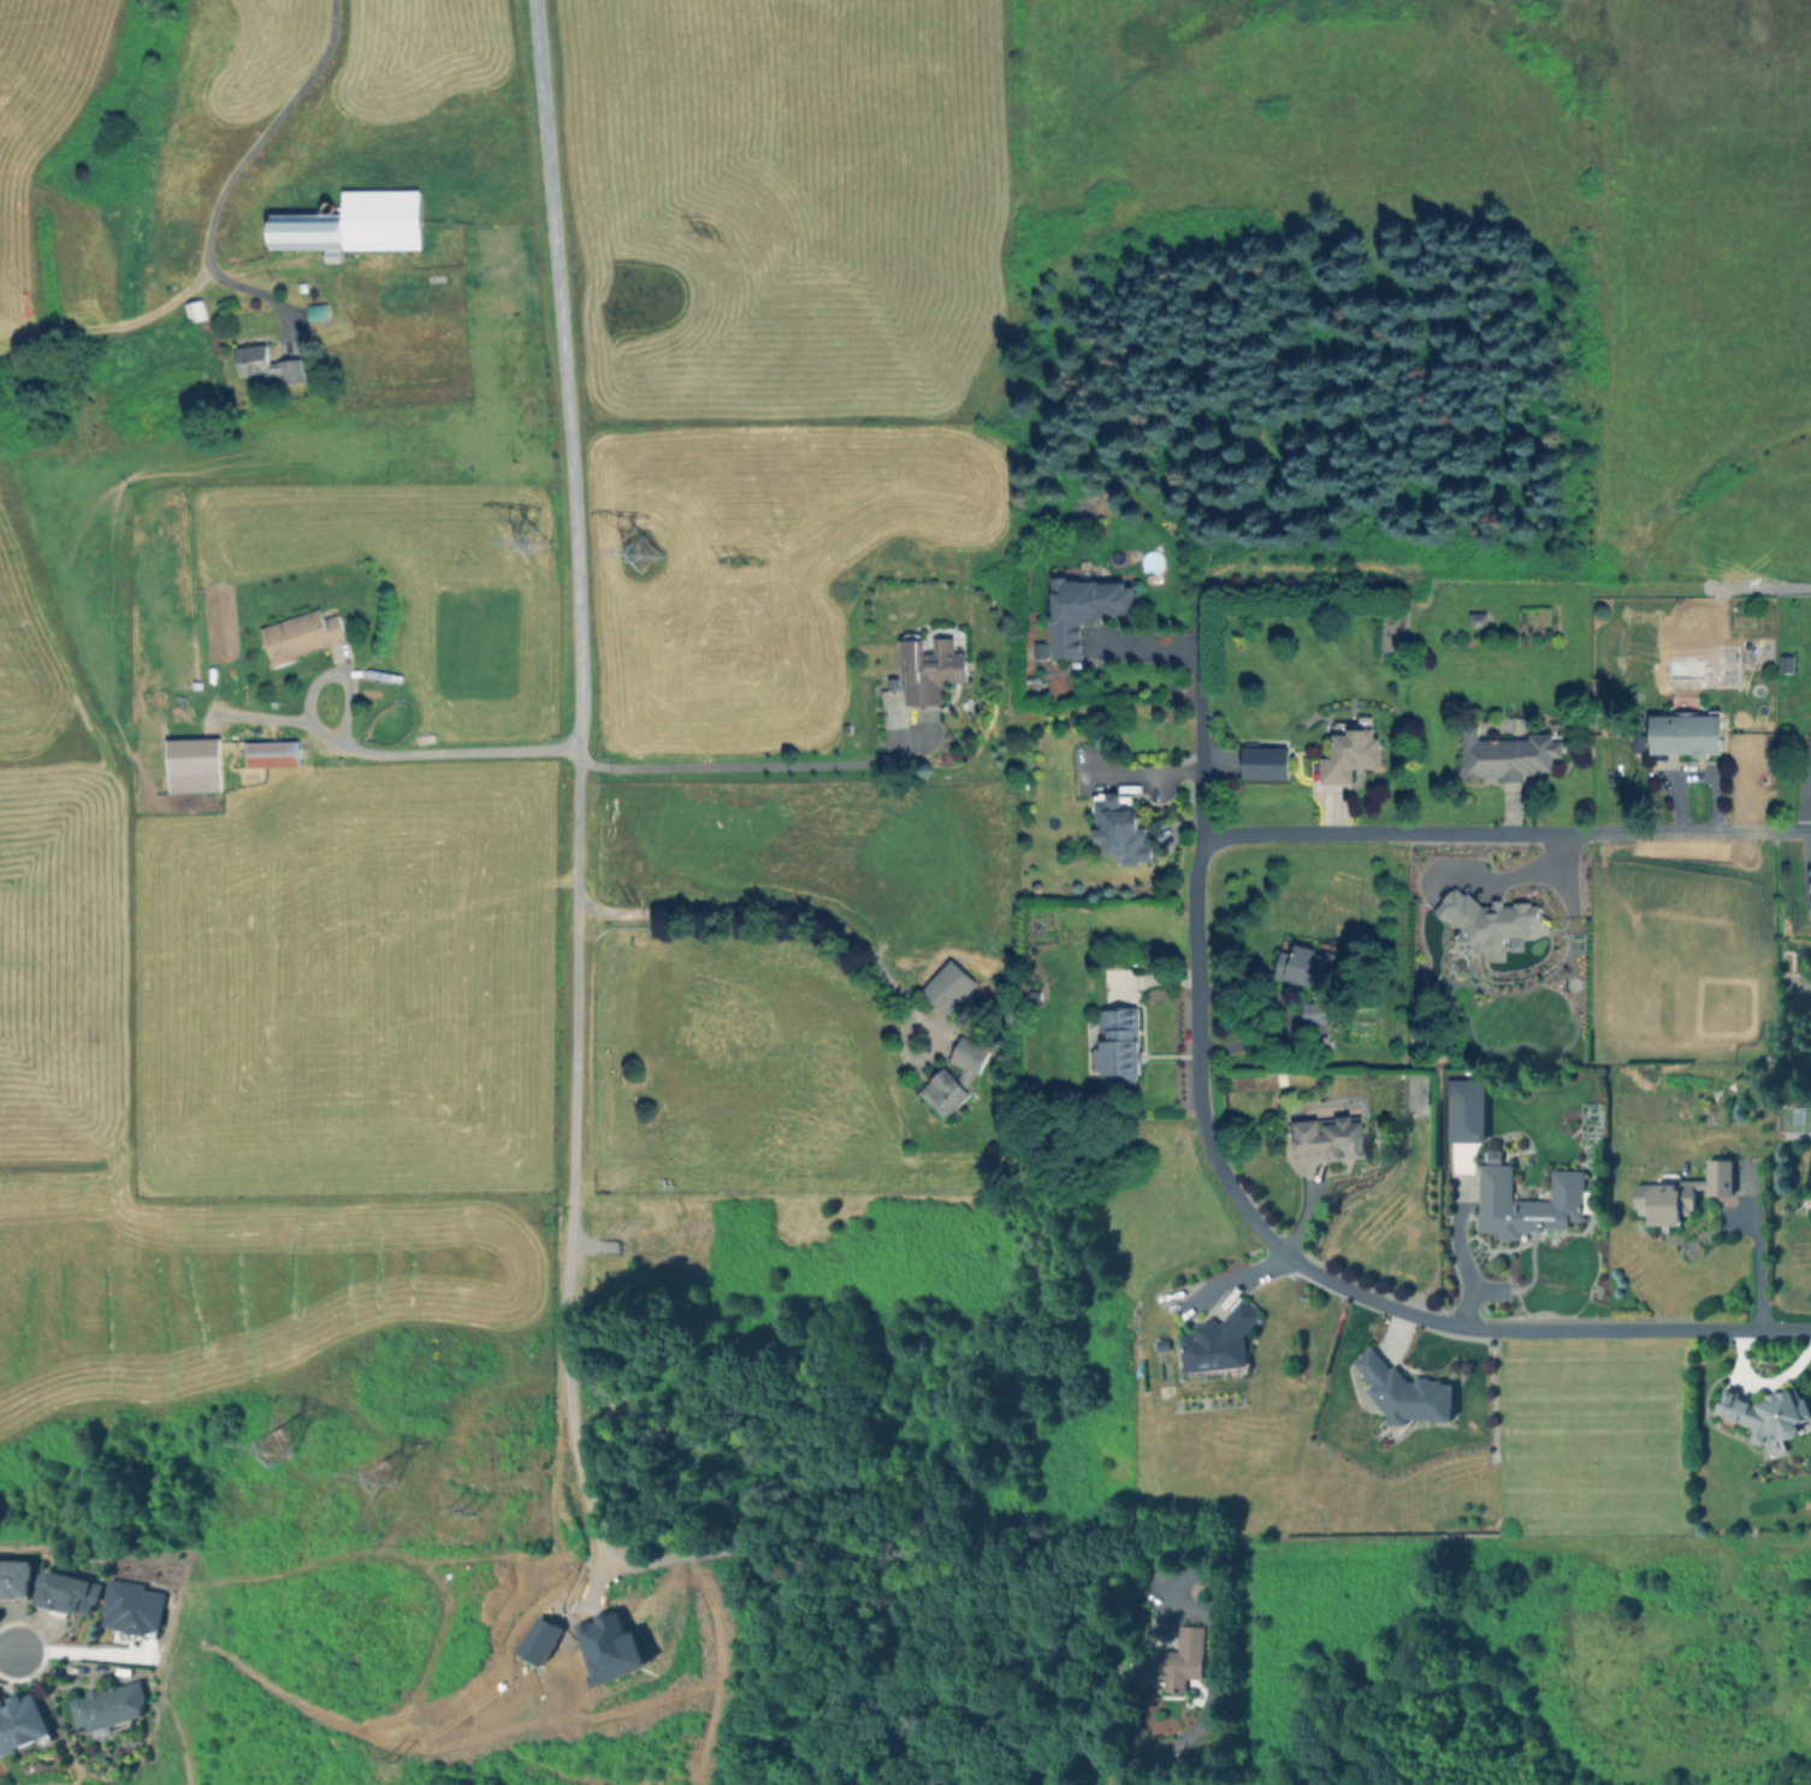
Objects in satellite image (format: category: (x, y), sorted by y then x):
road: (227, 176)
building: (315, 310)
building: (265, 364)
power tower: (515, 559)
building: (1150, 561)
power tower: (638, 563)
building: (1078, 609)
building: (1475, 618)
building: (300, 634)
building: (1036, 648)
building: (1783, 663)
building: (927, 668)
building: (1030, 677)
building: (1682, 727)
building: (1638, 742)
building: (1347, 749)
road: (451, 751)
building: (271, 753)
building: (1503, 754)
road: (726, 760)
building: (1261, 761)
building: (193, 764)
building: (1119, 828)
road: (1505, 830)
road: (729, 911)
building: (1486, 919)
building: (1304, 972)
building: (945, 986)
road: (574, 1030)
road: (1195, 1034)
building: (1320, 1042)
building: (1114, 1044)
building: (939, 1077)
building: (1277, 1077)
building: (1467, 1084)
building: (1325, 1132)
building: (1490, 1155)
building: (1676, 1192)
building: (1522, 1202)
road: (1458, 1250)
road: (1750, 1252)
road: (1635, 1329)
building: (1214, 1344)
building: (1398, 1393)
building: (1762, 1415)
power tower: (247, 1454)
power tower: (351, 1475)
building: (14, 1578)
building: (65, 1593)
building: (130, 1607)
road: (6, 1647)
road: (81, 1650)
building: (1171, 1660)
building: (107, 1706)
building: (19, 1721)

